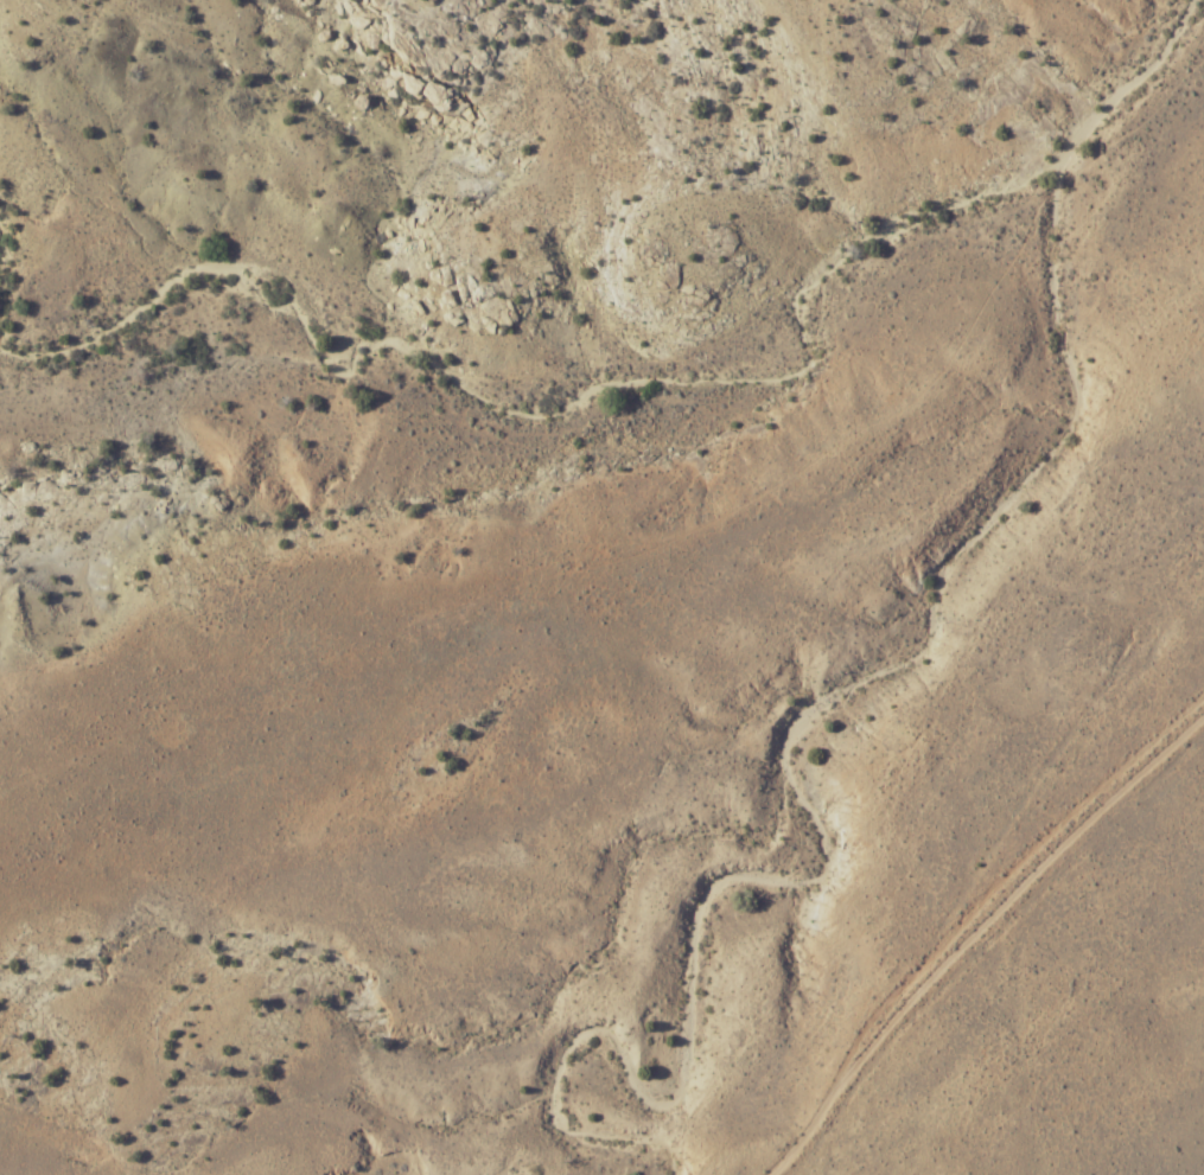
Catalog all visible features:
road: (975, 931)

